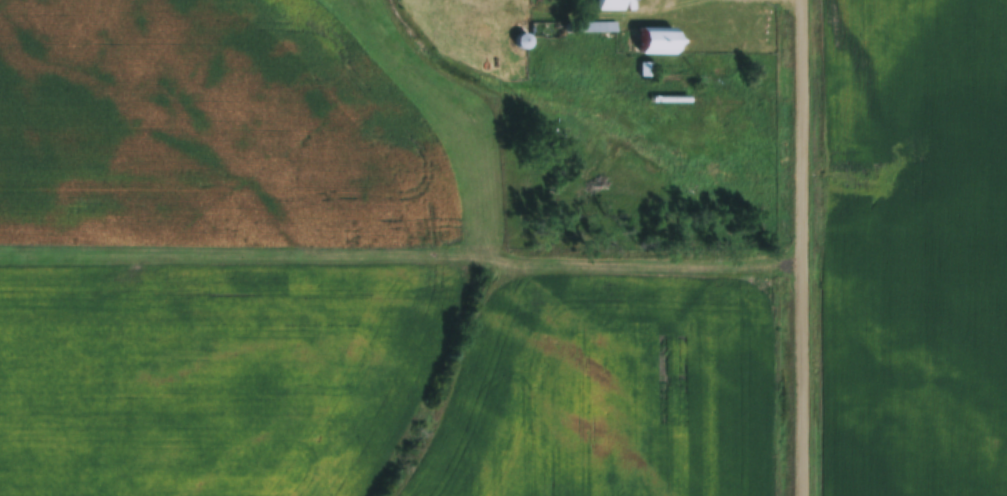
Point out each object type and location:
building: (611, 5)
building: (595, 27)
building: (547, 30)
building: (656, 41)
road: (804, 248)

